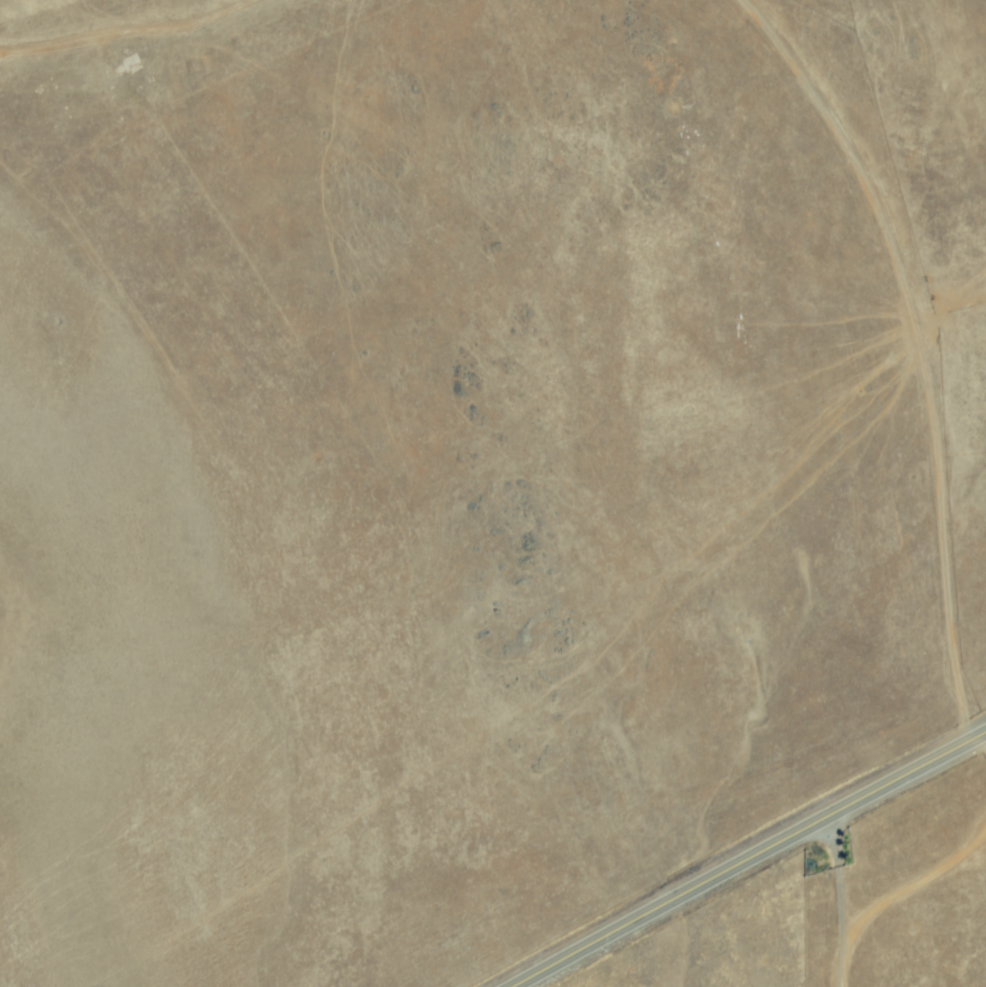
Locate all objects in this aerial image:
road: (130, 35)
road: (912, 350)
road: (749, 859)
road: (839, 902)

